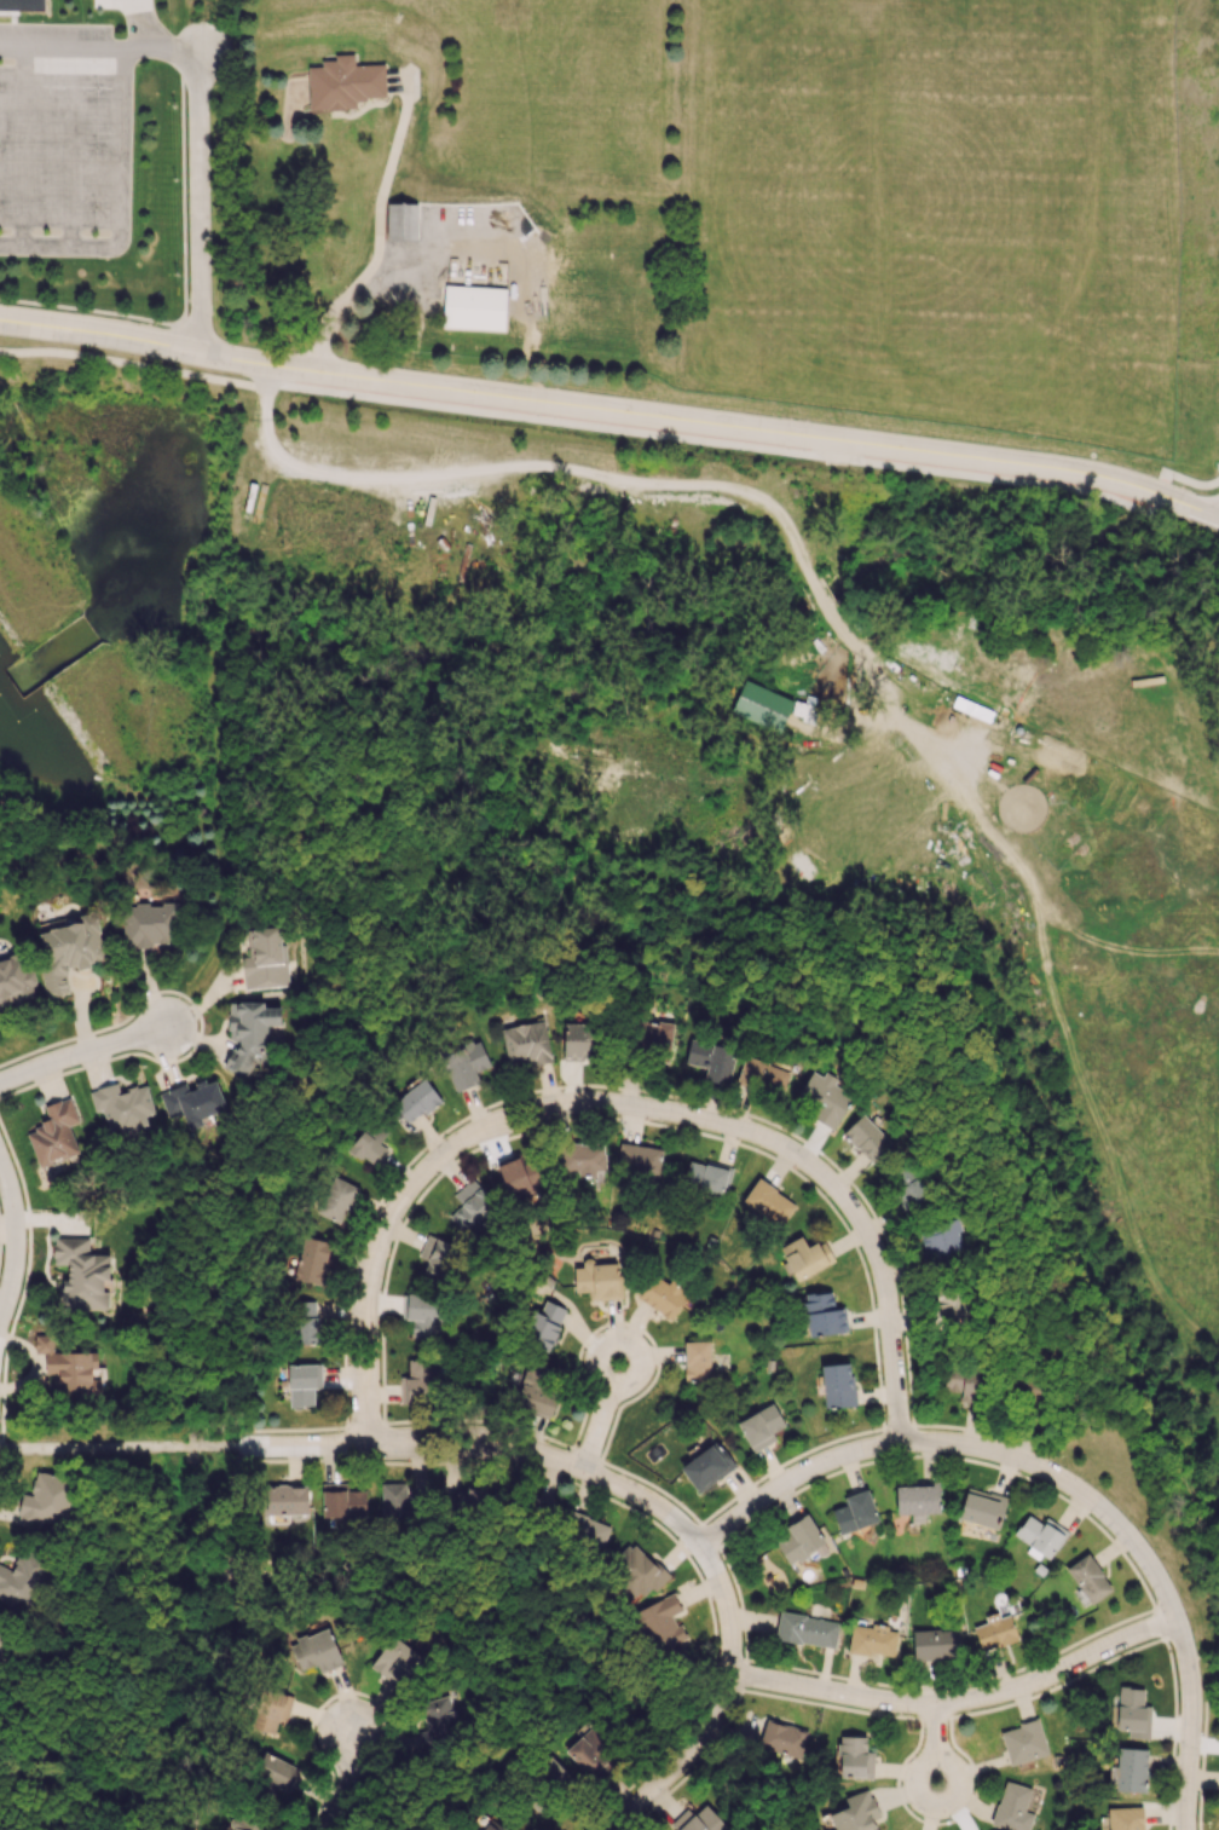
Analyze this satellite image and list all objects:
building: (23, 4)
road: (148, 25)
road: (60, 47)
road: (158, 50)
building: (342, 85)
parking lot: (59, 140)
road: (21, 145)
road: (69, 146)
road: (196, 203)
road: (120, 204)
building: (409, 220)
road: (377, 233)
building: (474, 307)
road: (262, 373)
road: (611, 410)
road: (578, 428)
road: (833, 455)
road: (520, 462)
road: (1189, 478)
road: (1157, 491)
road: (822, 594)
road: (863, 659)
building: (770, 705)
building: (150, 924)
building: (69, 949)
building: (264, 958)
building: (15, 977)
road: (202, 1021)
building: (249, 1033)
building: (651, 1037)
building: (580, 1040)
building: (526, 1043)
road: (82, 1060)
building: (711, 1060)
building: (464, 1064)
building: (762, 1076)
building: (822, 1097)
building: (416, 1101)
building: (192, 1102)
building: (122, 1105)
building: (54, 1133)
building: (866, 1137)
building: (370, 1142)
building: (582, 1156)
building: (640, 1158)
building: (522, 1176)
building: (707, 1176)
building: (907, 1185)
road: (414, 1189)
building: (336, 1199)
building: (768, 1202)
building: (472, 1207)
road: (857, 1220)
road: (13, 1237)
building: (943, 1241)
building: (437, 1257)
building: (805, 1257)
building: (312, 1259)
building: (81, 1272)
building: (599, 1280)
building: (662, 1294)
building: (946, 1306)
building: (822, 1314)
building: (422, 1315)
building: (305, 1321)
building: (544, 1326)
building: (697, 1361)
building: (69, 1367)
building: (417, 1380)
building: (304, 1382)
building: (963, 1382)
building: (837, 1385)
building: (536, 1391)
road: (605, 1407)
building: (759, 1426)
road: (117, 1445)
building: (706, 1466)
road: (1062, 1483)
road: (640, 1495)
building: (476, 1497)
building: (394, 1499)
building: (45, 1500)
building: (285, 1500)
building: (917, 1500)
building: (341, 1503)
building: (982, 1507)
building: (855, 1512)
building: (584, 1528)
building: (1040, 1536)
building: (799, 1539)
building: (637, 1572)
building: (21, 1578)
building: (1088, 1578)
building: (660, 1624)
building: (805, 1629)
building: (995, 1630)
building: (2, 1636)
building: (873, 1640)
building: (936, 1644)
building: (316, 1650)
building: (387, 1667)
road: (960, 1708)
building: (270, 1710)
building: (1132, 1713)
building: (440, 1715)
building: (782, 1738)
building: (1023, 1742)
building: (591, 1755)
road: (938, 1755)
building: (854, 1757)
building: (553, 1768)
building: (1128, 1770)
building: (275, 1773)
road: (347, 1779)
building: (1010, 1806)
building: (855, 1813)
building: (1125, 1818)
building: (703, 1820)
building: (492, 1825)
building: (238, 1828)

